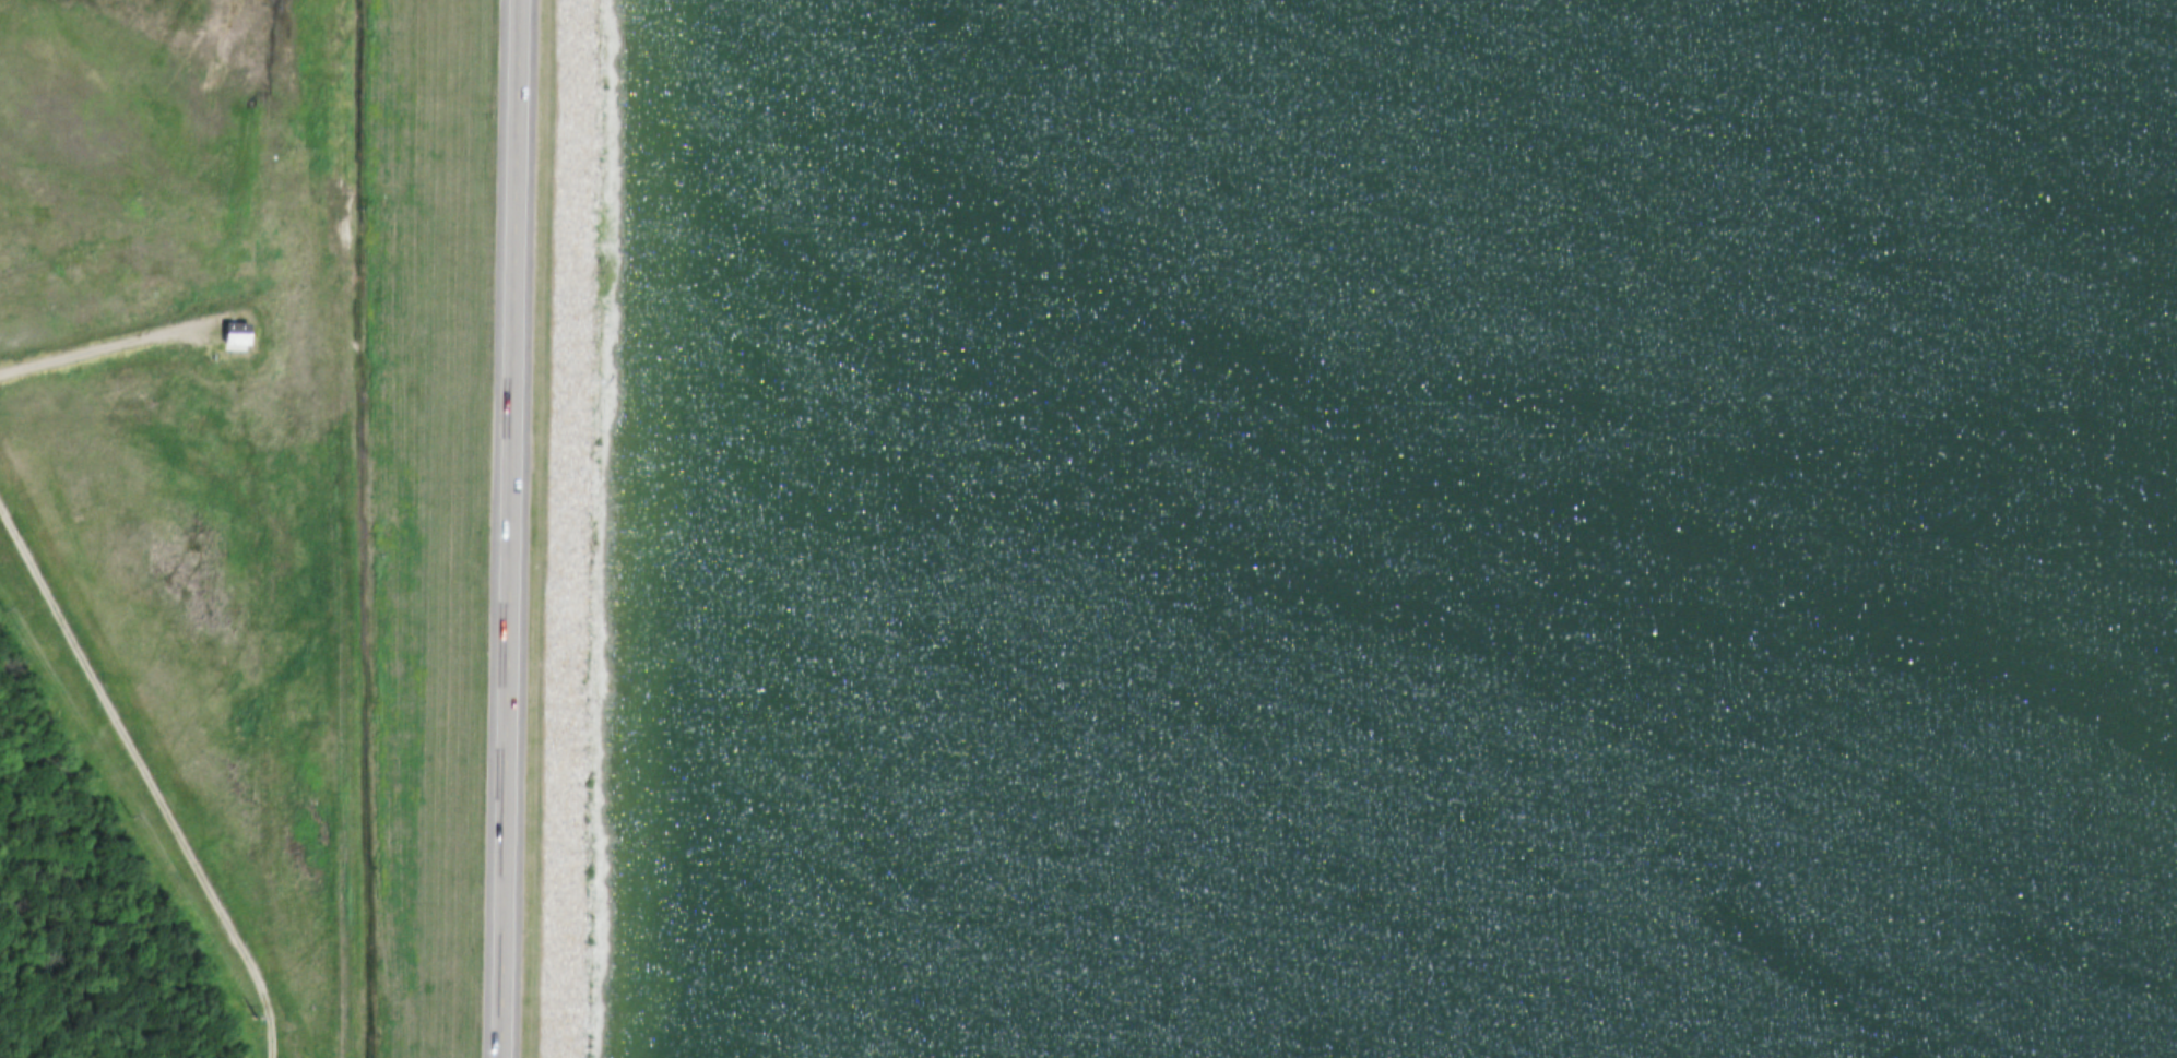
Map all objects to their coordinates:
building: (222, 331)
road: (96, 348)
road: (581, 528)
road: (138, 742)

